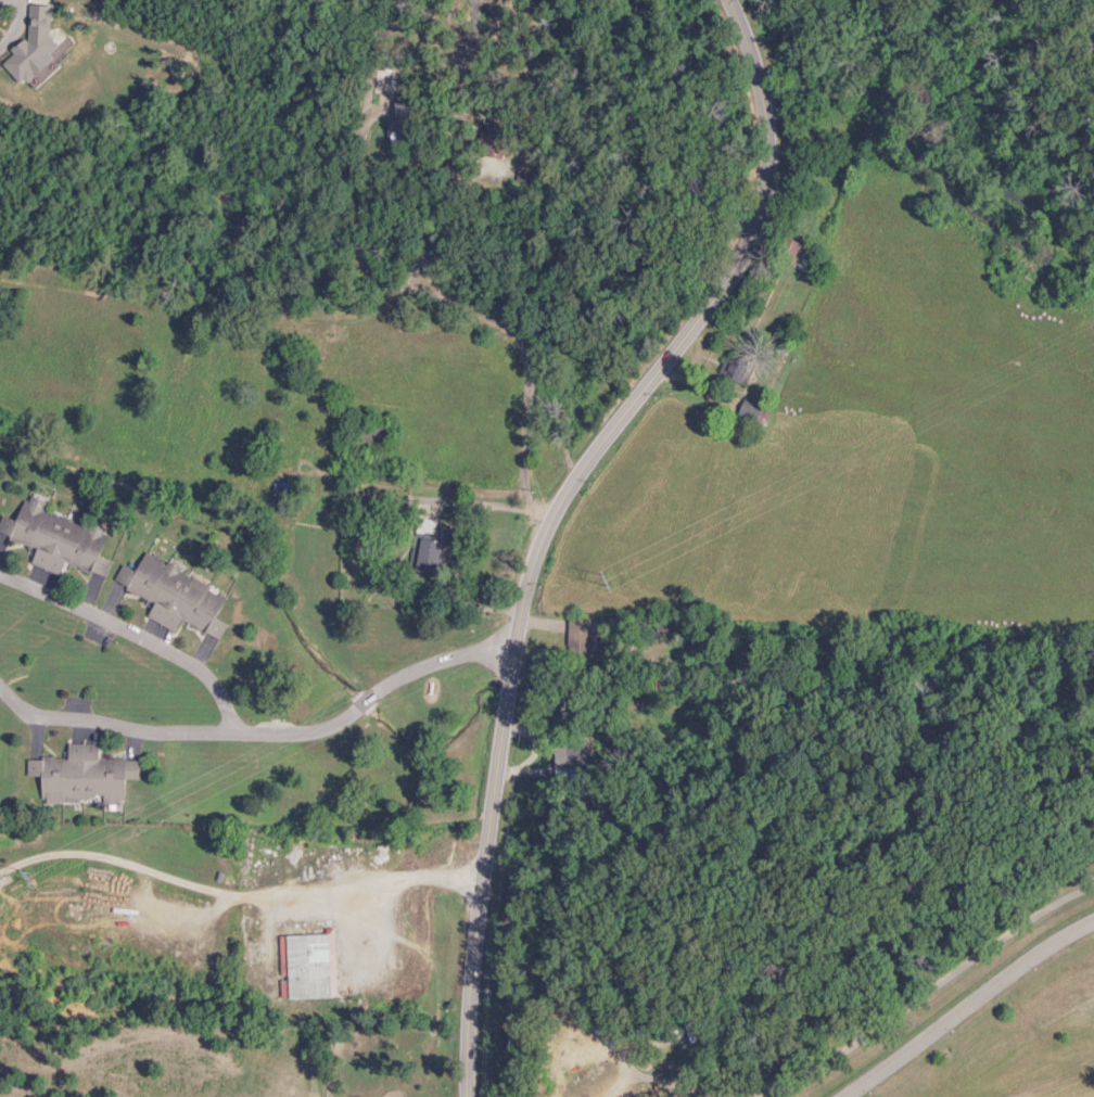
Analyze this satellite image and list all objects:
building: (405, 123)
building: (492, 140)
building: (792, 255)
building: (734, 369)
road: (525, 407)
building: (749, 410)
building: (368, 437)
road: (549, 516)
building: (55, 539)
building: (429, 548)
building: (174, 596)
road: (132, 640)
building: (580, 645)
road: (259, 732)
building: (81, 777)
road: (237, 897)
building: (304, 968)
road: (914, 995)
park: (853, 998)
road: (962, 1003)
building: (694, 1031)
road: (632, 1056)

